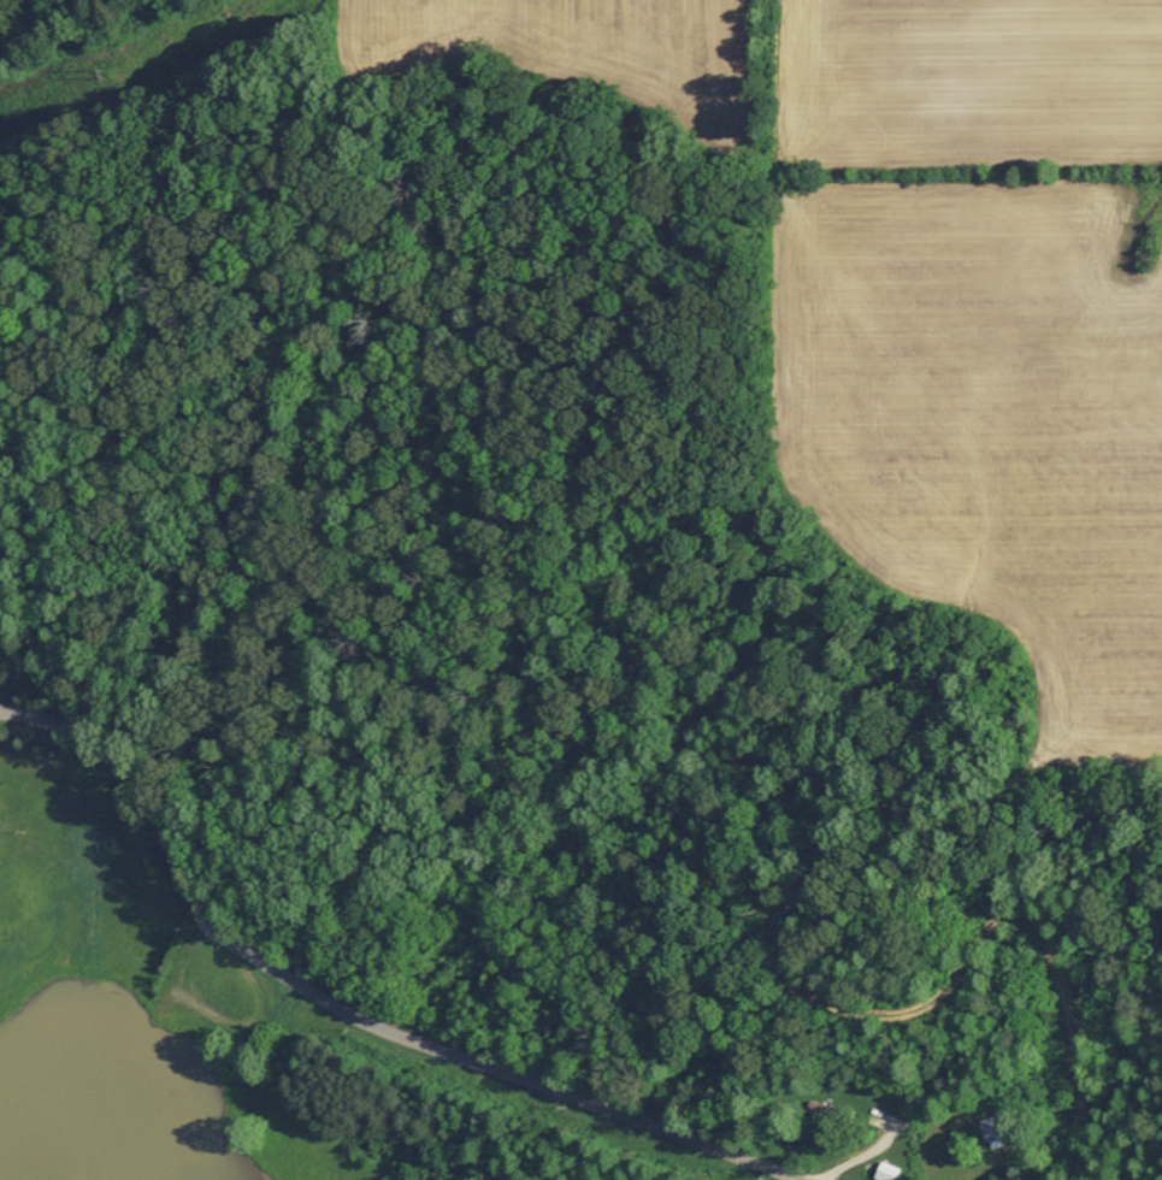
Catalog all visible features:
road: (348, 1009)
building: (989, 1128)
building: (883, 1175)

